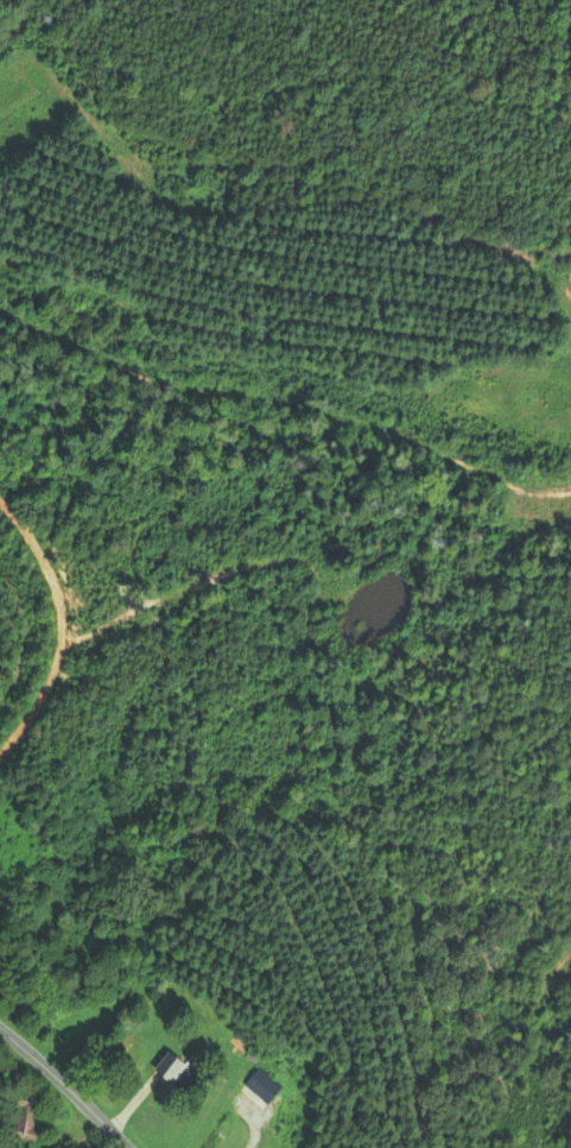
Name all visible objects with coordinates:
building: (169, 1073)
road: (65, 1086)
building: (21, 1118)

